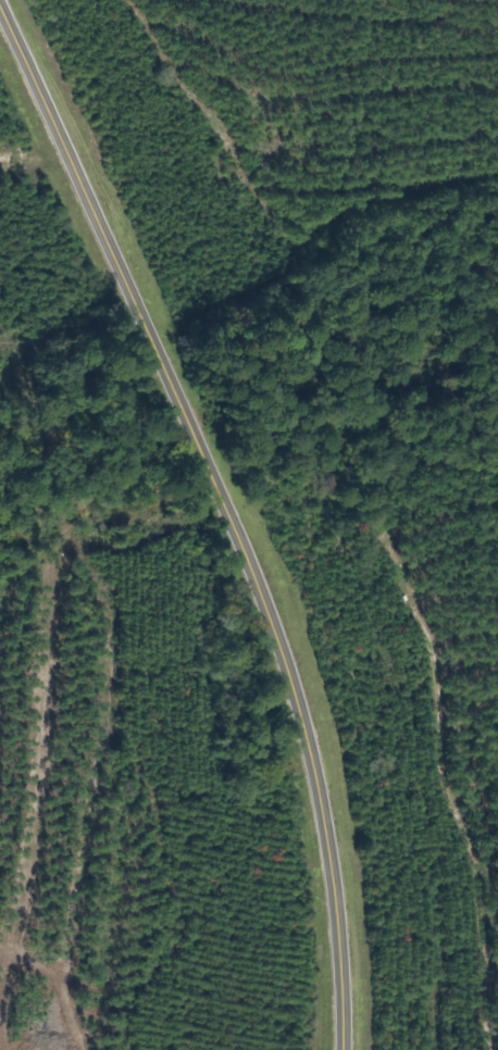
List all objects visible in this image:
road: (224, 516)

